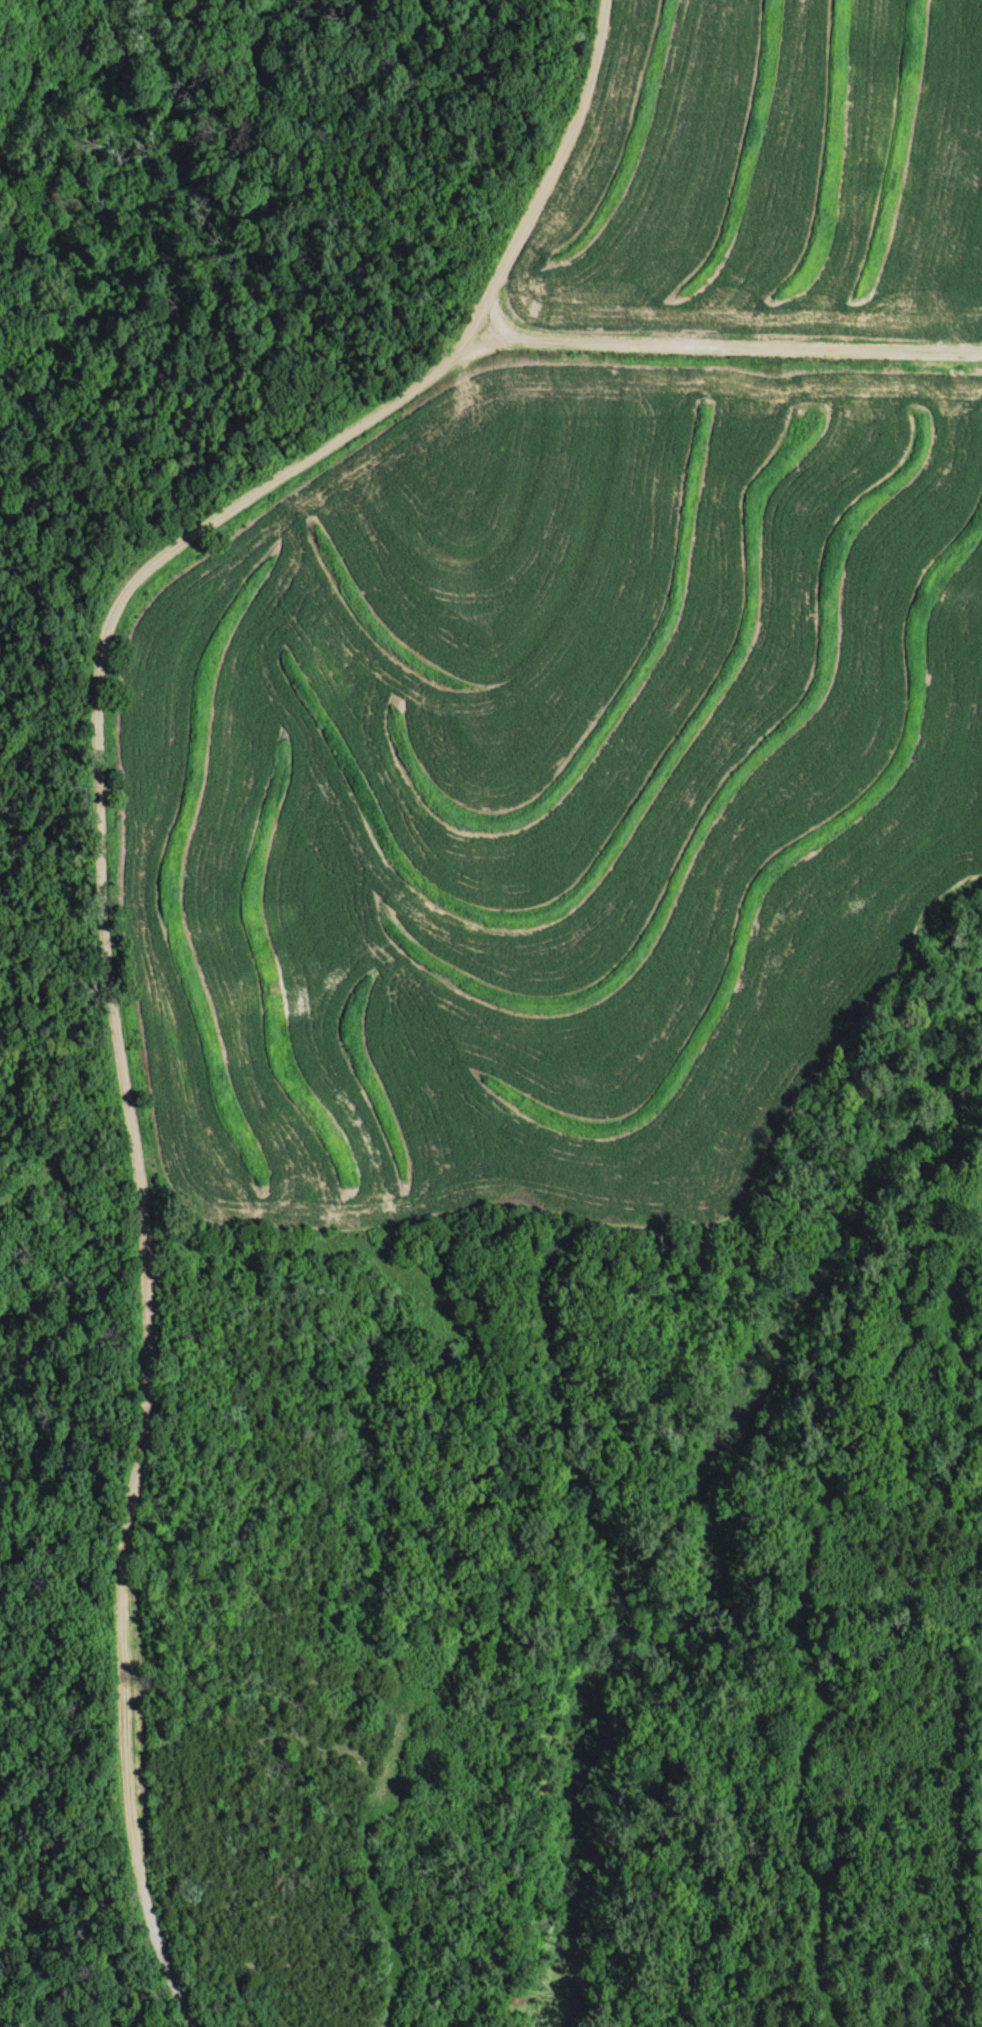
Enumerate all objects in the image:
road: (744, 326)
road: (111, 934)

